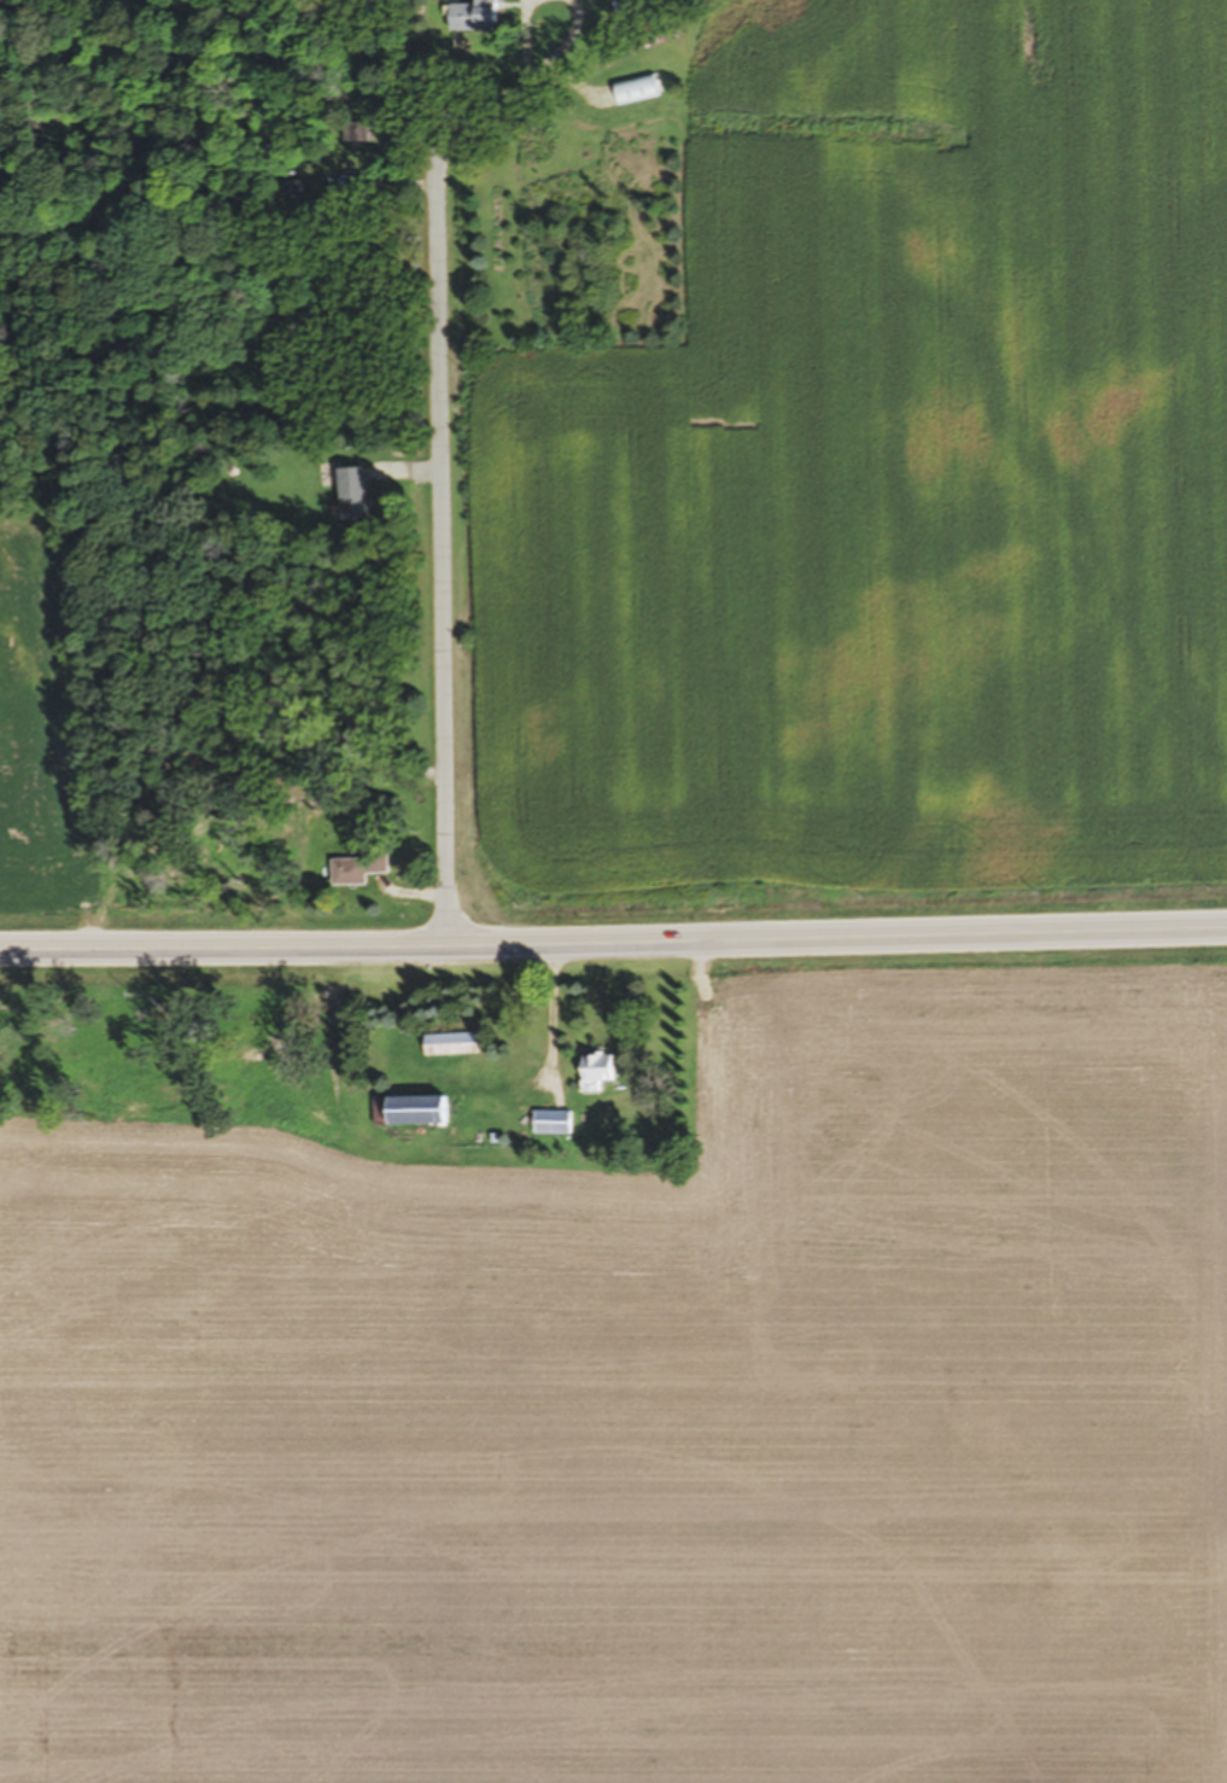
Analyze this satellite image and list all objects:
building: (473, 18)
road: (445, 439)
building: (354, 495)
building: (355, 870)
road: (613, 931)
building: (450, 1045)
building: (596, 1073)
building: (417, 1113)
building: (551, 1124)

